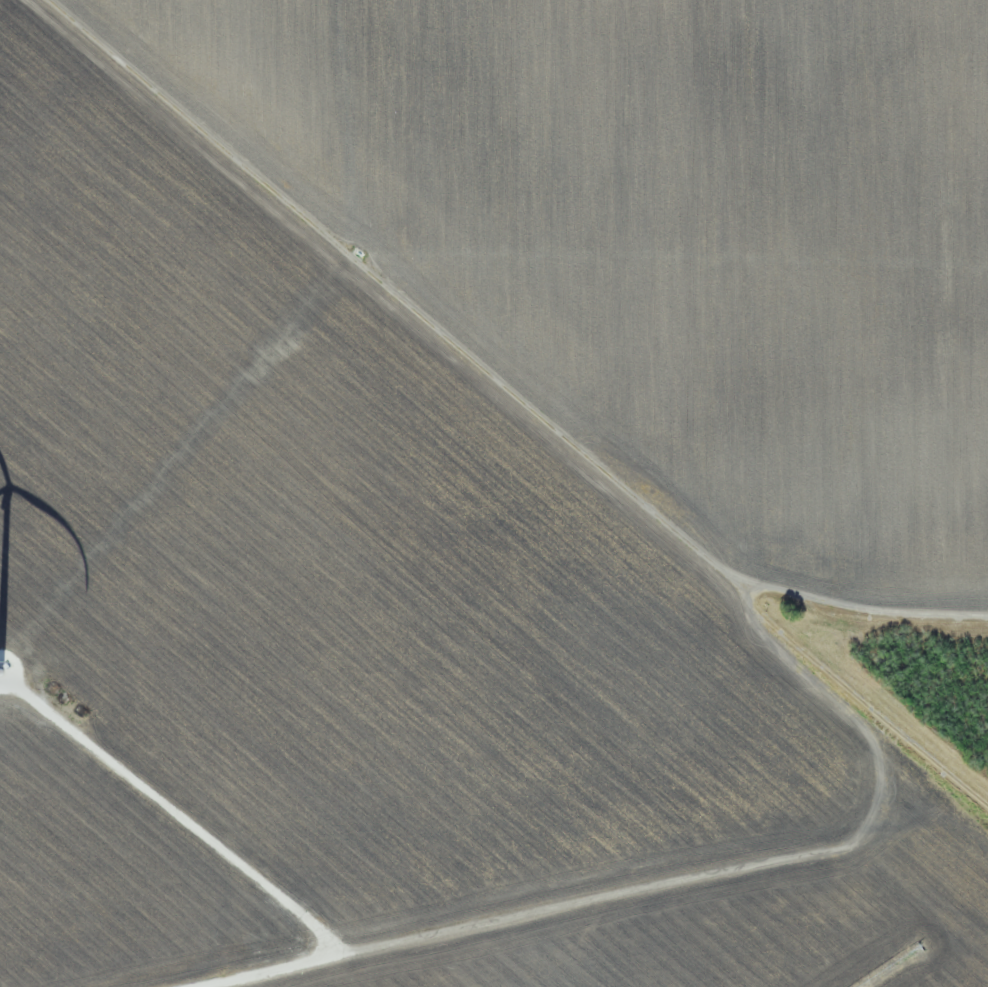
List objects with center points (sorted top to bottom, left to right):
road: (200, 241)

